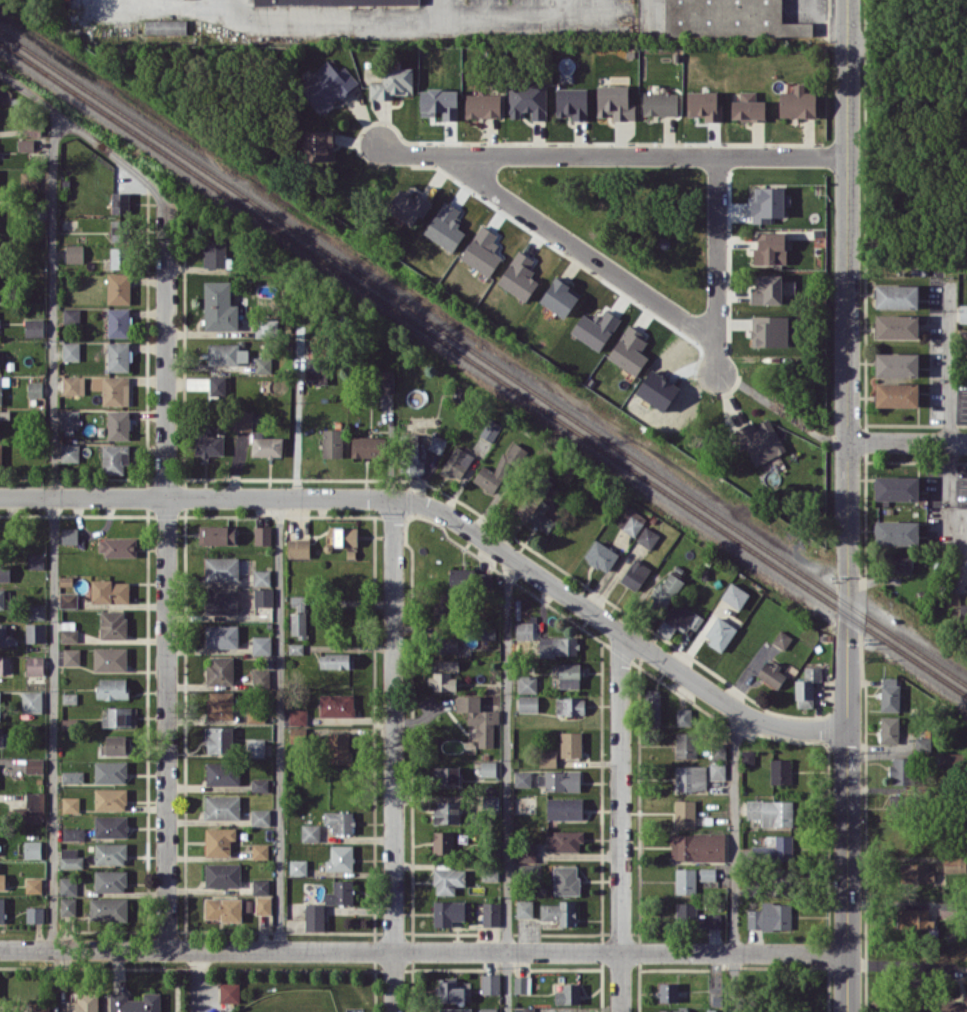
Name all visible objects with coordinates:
building: (334, 0)
road: (167, 2)
building: (728, 17)
road: (532, 21)
road: (820, 22)
road: (336, 23)
building: (163, 24)
building: (392, 83)
building: (327, 86)
building: (527, 99)
building: (615, 102)
building: (798, 102)
building: (439, 103)
building: (572, 103)
building: (660, 103)
building: (482, 105)
building: (704, 105)
building: (748, 107)
road: (89, 134)
building: (26, 144)
building: (318, 145)
road: (611, 154)
building: (29, 180)
building: (120, 202)
building: (768, 203)
building: (408, 206)
building: (445, 226)
building: (119, 230)
road: (576, 247)
building: (770, 248)
building: (482, 250)
building: (74, 253)
building: (215, 254)
building: (118, 257)
road: (716, 263)
building: (519, 276)
building: (118, 287)
building: (767, 289)
building: (896, 296)
building: (560, 297)
building: (219, 306)
building: (963, 313)
building: (71, 316)
building: (119, 322)
building: (897, 326)
building: (34, 327)
building: (595, 328)
building: (769, 330)
building: (965, 339)
building: (629, 350)
building: (71, 351)
building: (227, 353)
building: (118, 356)
railway: (483, 357)
building: (0, 359)
building: (263, 364)
building: (897, 364)
railway: (483, 369)
building: (315, 370)
building: (386, 381)
building: (73, 385)
building: (217, 386)
building: (35, 389)
building: (112, 389)
building: (0, 390)
building: (657, 390)
building: (897, 394)
road: (780, 409)
building: (69, 419)
building: (242, 420)
building: (118, 424)
building: (490, 430)
road: (949, 437)
building: (759, 440)
building: (332, 442)
road: (906, 442)
building: (437, 443)
building: (208, 444)
building: (266, 445)
building: (366, 446)
building: (70, 452)
building: (515, 452)
building: (1, 456)
building: (115, 458)
building: (457, 463)
building: (486, 479)
building: (896, 487)
road: (196, 495)
road: (846, 505)
building: (541, 516)
building: (631, 521)
road: (52, 531)
building: (897, 532)
building: (217, 534)
building: (262, 535)
building: (69, 537)
building: (341, 537)
building: (647, 537)
building: (117, 546)
building: (298, 547)
building: (601, 555)
building: (35, 561)
building: (901, 563)
building: (221, 568)
building: (4, 573)
building: (635, 574)
building: (457, 575)
building: (261, 577)
road: (165, 579)
building: (668, 586)
building: (110, 591)
building: (734, 595)
building: (263, 596)
building: (2, 598)
building: (68, 599)
building: (221, 602)
building: (442, 605)
building: (36, 612)
building: (299, 615)
building: (679, 619)
building: (113, 624)
road: (615, 627)
building: (524, 630)
building: (35, 632)
building: (719, 633)
building: (6, 635)
building: (221, 636)
building: (782, 639)
building: (447, 643)
building: (261, 644)
building: (557, 646)
building: (295, 648)
building: (71, 656)
building: (110, 658)
building: (336, 660)
building: (34, 664)
building: (5, 665)
building: (448, 665)
building: (220, 670)
building: (771, 674)
building: (570, 675)
building: (260, 677)
building: (441, 680)
building: (526, 683)
building: (807, 686)
building: (112, 688)
building: (889, 693)
building: (69, 697)
building: (32, 701)
building: (528, 703)
building: (220, 704)
building: (336, 705)
building: (570, 705)
building: (652, 706)
building: (0, 711)
building: (120, 716)
building: (255, 716)
building: (297, 716)
building: (683, 716)
building: (478, 718)
road: (279, 722)
building: (889, 729)
building: (297, 734)
building: (1, 736)
building: (219, 739)
building: (922, 743)
building: (571, 744)
building: (116, 745)
building: (685, 745)
building: (256, 747)
building: (339, 747)
building: (718, 751)
road: (393, 754)
building: (547, 757)
building: (747, 757)
building: (34, 765)
building: (488, 768)
building: (780, 770)
building: (900, 770)
building: (717, 771)
building: (110, 772)
building: (222, 773)
building: (446, 775)
building: (72, 776)
building: (522, 778)
building: (690, 778)
building: (562, 780)
road: (506, 782)
building: (259, 784)
building: (110, 799)
building: (893, 799)
building: (491, 803)
building: (71, 804)
building: (222, 807)
building: (33, 808)
building: (564, 808)
building: (447, 812)
building: (684, 812)
building: (771, 812)
building: (260, 817)
building: (339, 821)
road: (619, 821)
building: (110, 826)
building: (310, 832)
building: (73, 833)
building: (565, 840)
building: (219, 841)
building: (443, 842)
building: (697, 846)
building: (774, 848)
building: (32, 849)
building: (260, 851)
building: (527, 852)
building: (110, 853)
building: (70, 858)
building: (340, 858)
road: (733, 861)
building: (298, 867)
building: (529, 871)
building: (915, 873)
building: (222, 874)
building: (707, 874)
building: (565, 879)
building: (110, 880)
building: (448, 880)
building: (685, 880)
building: (2, 881)
building: (33, 885)
building: (68, 885)
building: (260, 886)
building: (340, 893)
building: (262, 904)
building: (67, 906)
building: (108, 908)
building: (222, 908)
building: (524, 908)
building: (2, 909)
building: (947, 909)
building: (448, 912)
building: (558, 912)
building: (490, 913)
building: (35, 914)
building: (314, 916)
building: (694, 916)
building: (770, 916)
building: (913, 918)
road: (423, 950)
road: (899, 966)
road: (199, 976)
building: (490, 983)
building: (521, 984)
building: (448, 990)
park: (270, 991)
building: (229, 992)
building: (668, 992)
building: (568, 994)
building: (134, 1002)
building: (83, 1003)
building: (954, 1005)
building: (41, 1008)
building: (352, 1009)
building: (455, 1009)
building: (488, 1009)
building: (523, 1009)
building: (671, 1010)
building: (714, 1010)
building: (576, 1011)

